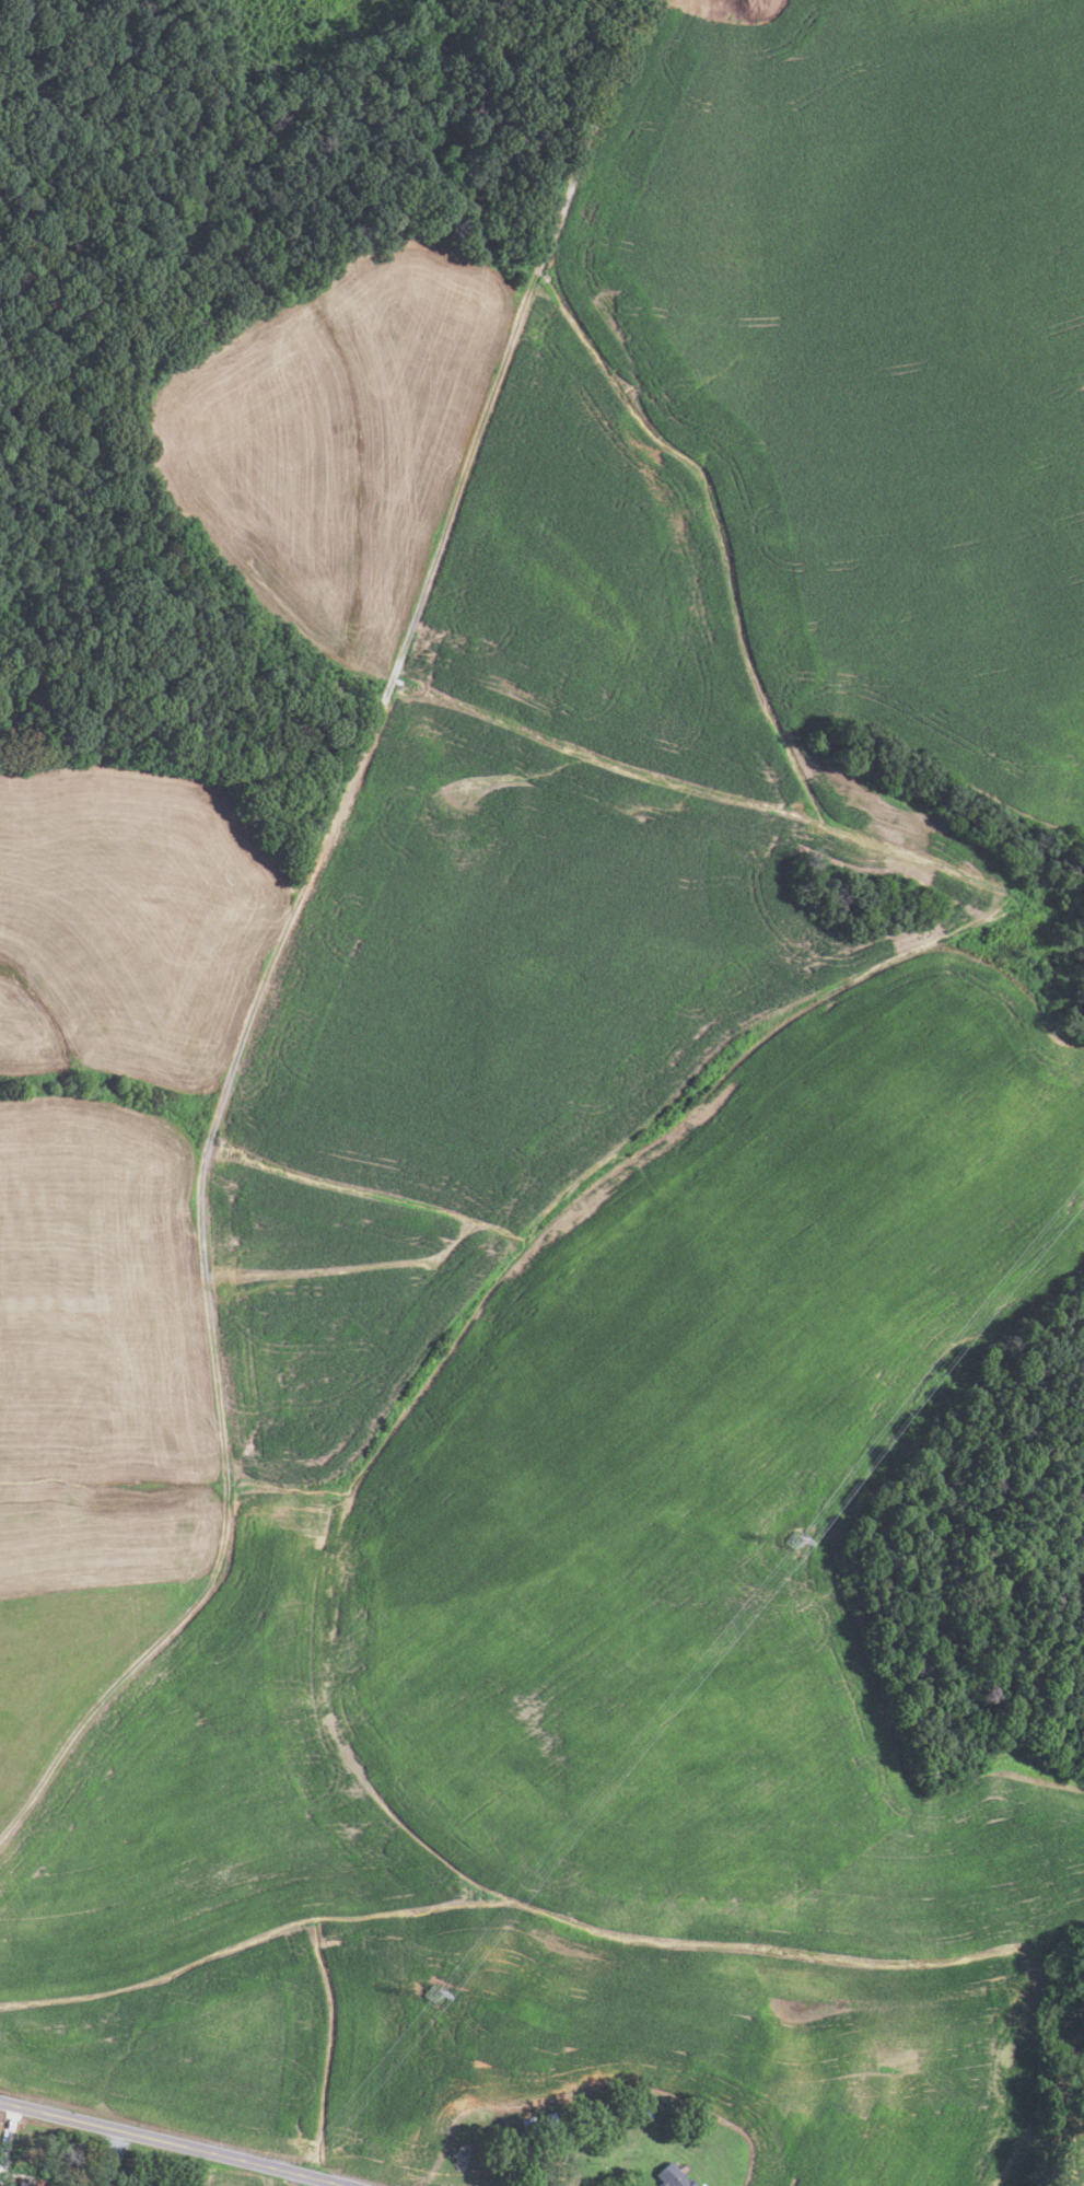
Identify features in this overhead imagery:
crop: (747, 0)
crop: (336, 435)
crop: (679, 664)
crop: (129, 923)
crop: (101, 1352)
power tower: (797, 1539)
crop: (69, 1665)
crop: (607, 1684)
power tower: (435, 1984)
building: (641, 2113)
building: (548, 2119)
building: (528, 2125)
road: (173, 2142)
building: (521, 2159)
building: (673, 2175)
crop: (235, 2177)
building: (14, 2184)
building: (1, 2185)

